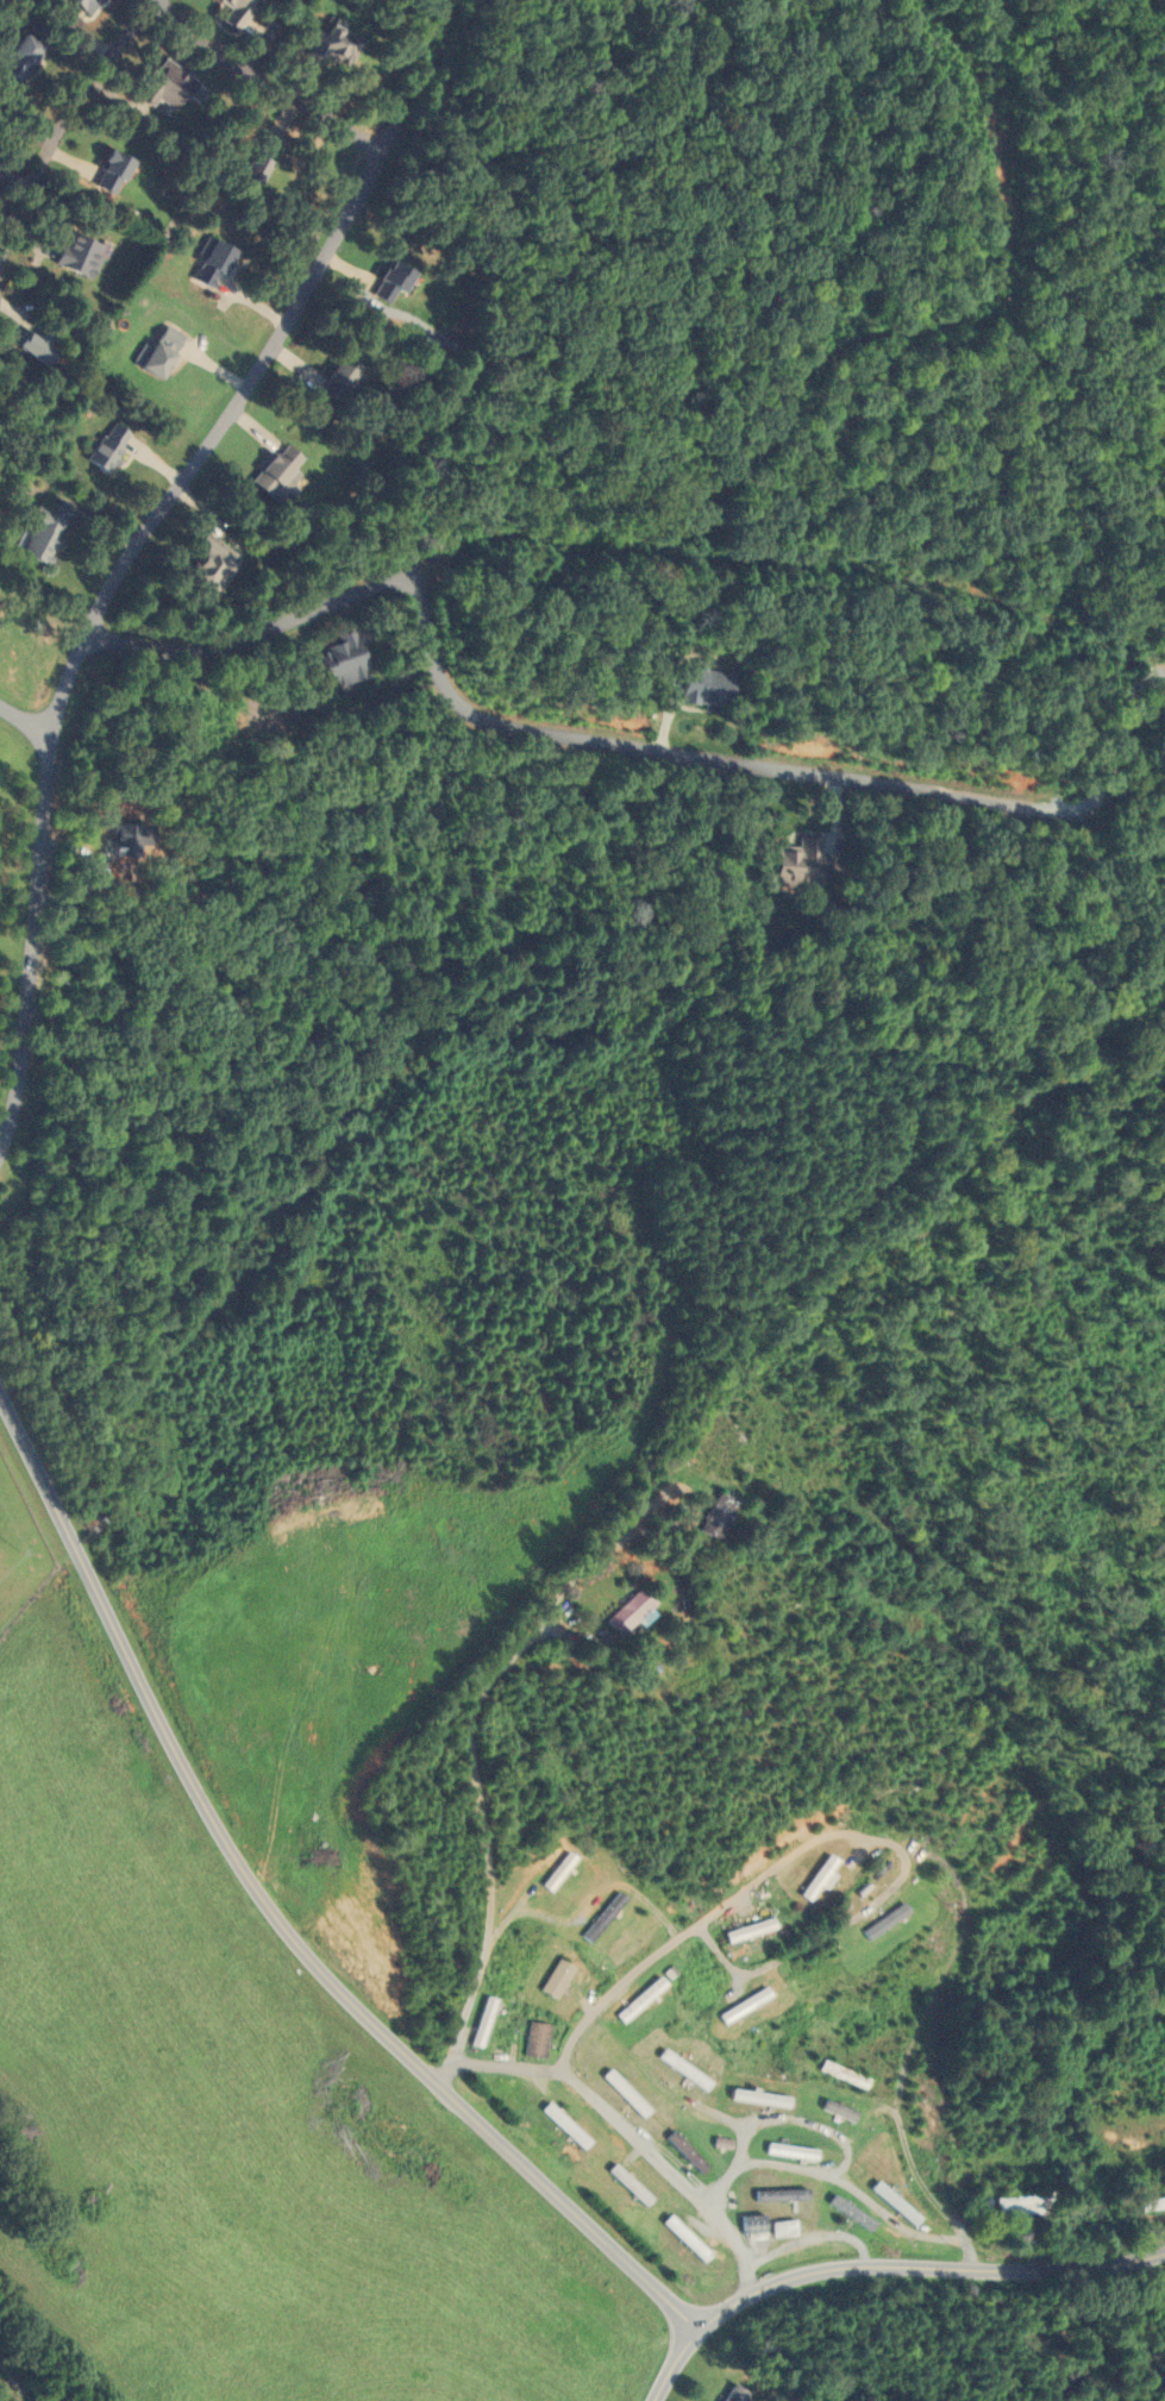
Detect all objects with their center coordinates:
building: (81, 5)
road: (149, 5)
building: (231, 13)
road: (82, 36)
building: (330, 42)
building: (15, 56)
road: (265, 82)
building: (162, 84)
road: (61, 121)
building: (105, 171)
building: (74, 255)
building: (208, 264)
building: (386, 282)
building: (29, 344)
building: (156, 351)
building: (336, 376)
building: (104, 447)
building: (275, 464)
building: (39, 535)
road: (121, 558)
building: (202, 563)
building: (336, 659)
building: (703, 687)
road: (23, 716)
road: (527, 728)
road: (1125, 759)
building: (791, 864)
building: (715, 1516)
building: (626, 1612)
road: (478, 1779)
road: (828, 1835)
building: (552, 1877)
building: (815, 1879)
building: (866, 1882)
building: (600, 1917)
building: (882, 1922)
road: (278, 1923)
building: (745, 1931)
building: (508, 1955)
building: (896, 1968)
building: (555, 1979)
building: (639, 1999)
building: (743, 2006)
building: (480, 2023)
building: (534, 2039)
building: (683, 2070)
building: (841, 2074)
building: (624, 2093)
building: (832, 2111)
road: (797, 2120)
building: (563, 2126)
road: (633, 2133)
building: (937, 2134)
building: (684, 2152)
building: (787, 2152)
building: (1042, 2168)
building: (624, 2182)
road: (850, 2183)
building: (778, 2195)
building: (891, 2203)
building: (1150, 2205)
building: (1022, 2206)
building: (848, 2213)
building: (750, 2225)
building: (781, 2228)
road: (814, 2234)
building: (683, 2239)
road: (926, 2268)
road: (675, 2363)
road: (21, 2374)
building: (732, 2394)

